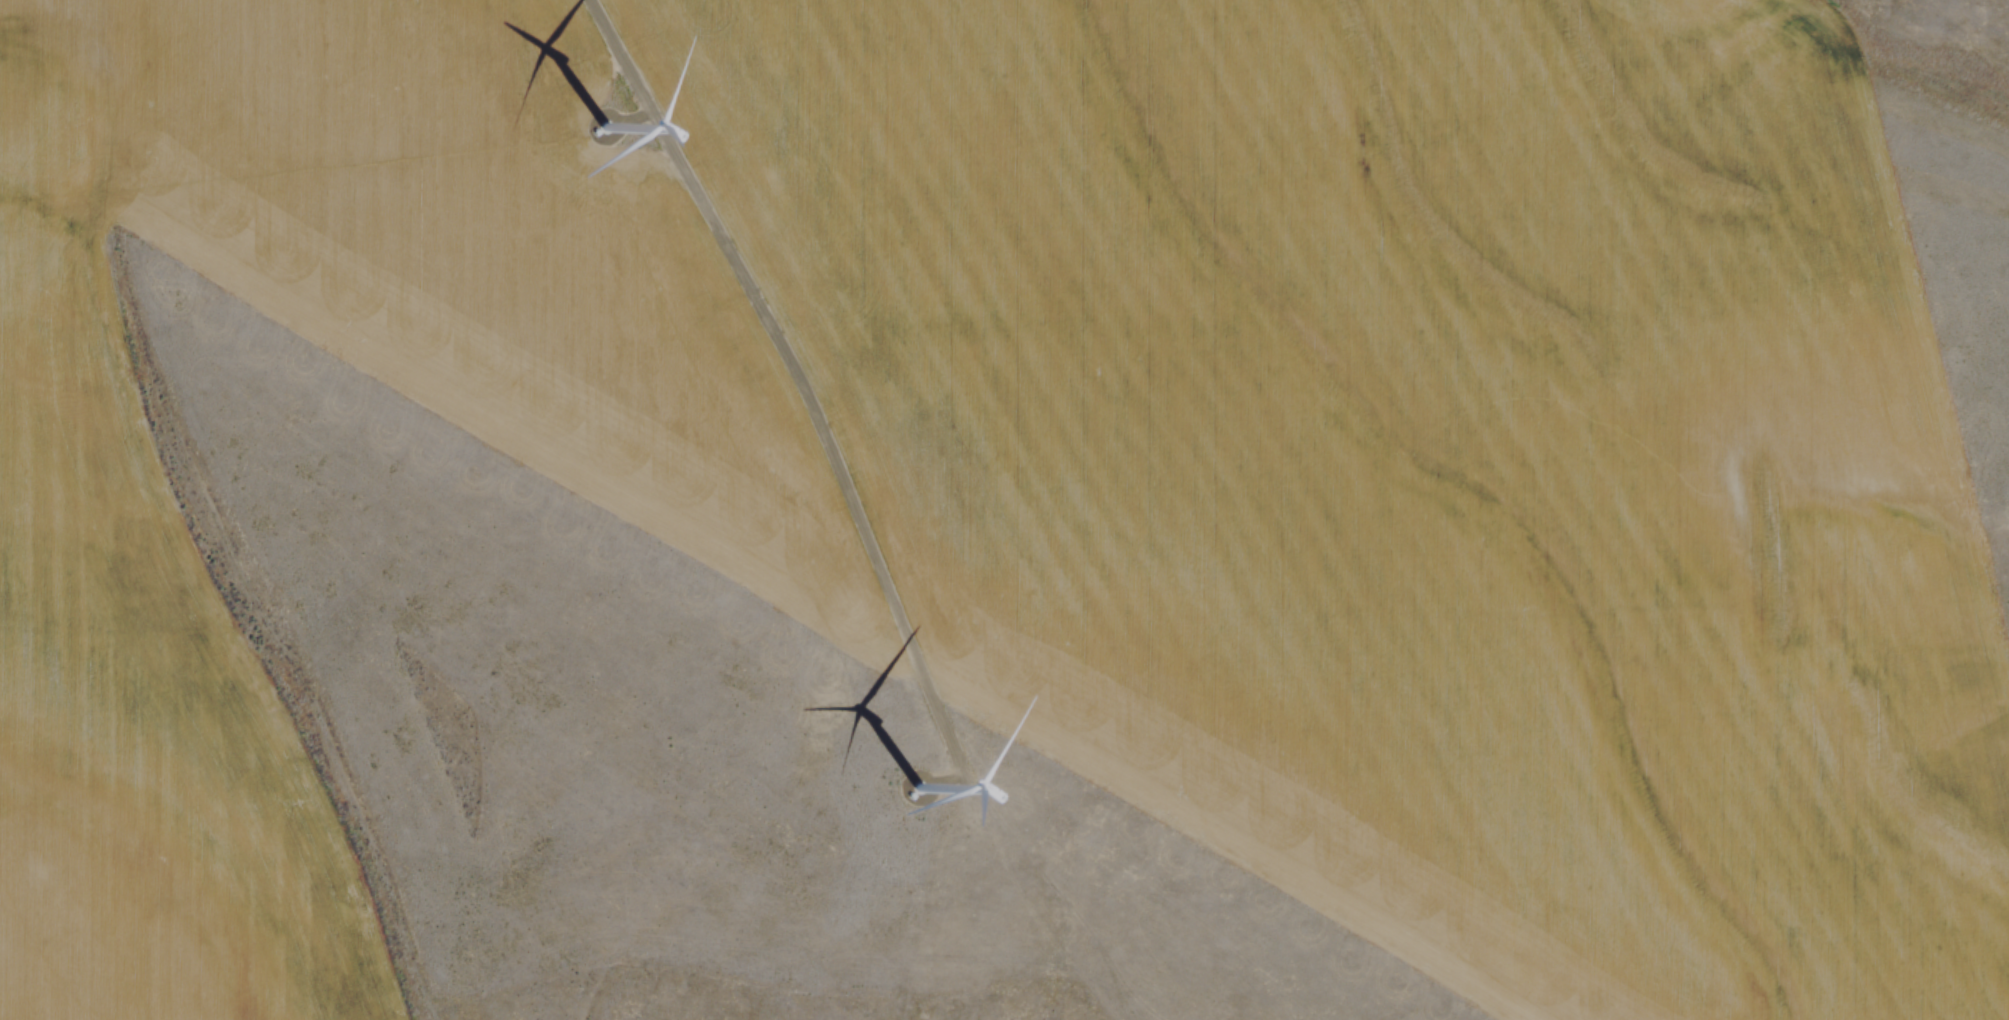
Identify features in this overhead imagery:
wind turbine: (603, 131)
wind turbine: (922, 789)

